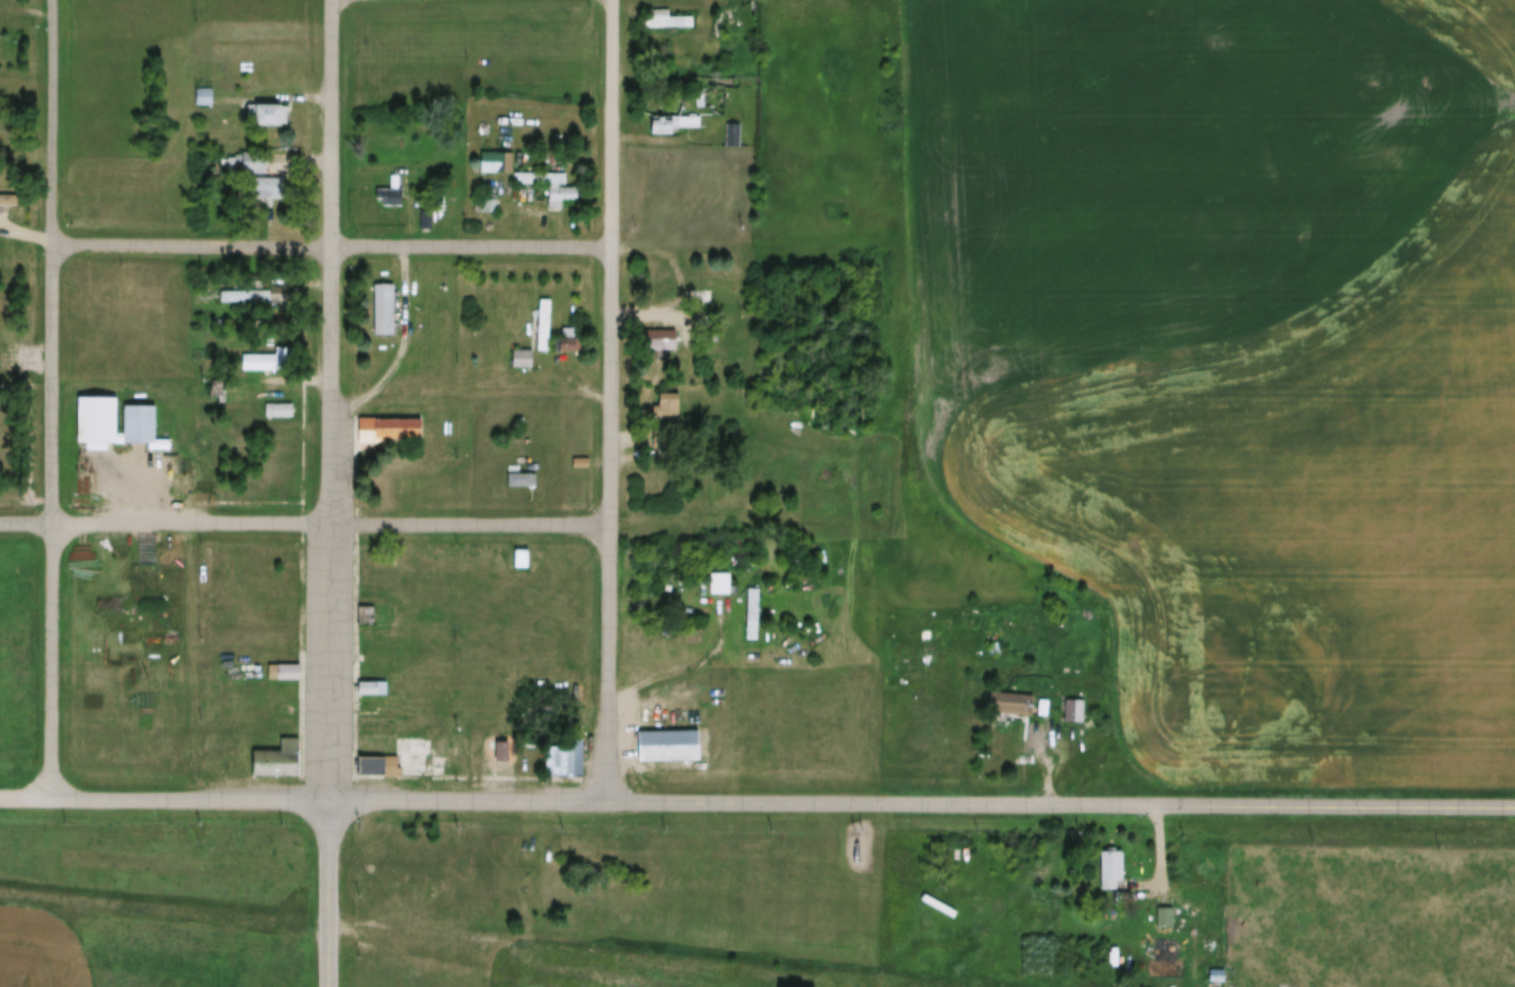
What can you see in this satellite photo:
building: (667, 13)
building: (666, 22)
building: (204, 89)
building: (701, 92)
building: (205, 100)
building: (268, 109)
building: (673, 116)
road: (612, 123)
building: (673, 126)
building: (735, 128)
building: (732, 137)
building: (3, 145)
building: (497, 156)
building: (242, 158)
building: (254, 165)
building: (538, 171)
building: (269, 181)
building: (562, 189)
building: (389, 190)
building: (271, 191)
building: (8, 194)
building: (486, 199)
building: (390, 200)
building: (9, 203)
building: (486, 207)
building: (431, 212)
road: (26, 235)
road: (193, 245)
road: (473, 246)
building: (247, 289)
building: (664, 291)
building: (254, 298)
building: (383, 303)
building: (542, 318)
building: (568, 326)
building: (658, 333)
building: (565, 338)
road: (402, 346)
building: (571, 346)
building: (523, 352)
building: (266, 354)
building: (266, 364)
road: (52, 397)
road: (334, 398)
building: (666, 402)
building: (280, 403)
building: (280, 412)
building: (111, 416)
building: (523, 416)
building: (387, 422)
building: (581, 455)
building: (522, 473)
building: (525, 482)
road: (683, 517)
road: (472, 520)
road: (166, 522)
road: (611, 522)
building: (520, 552)
building: (521, 561)
building: (722, 576)
building: (652, 584)
building: (720, 586)
building: (753, 607)
building: (367, 609)
building: (284, 665)
road: (689, 667)
building: (285, 675)
building: (373, 680)
building: (372, 691)
building: (1011, 697)
building: (979, 700)
building: (1043, 700)
building: (1074, 703)
building: (1007, 707)
building: (667, 739)
building: (501, 744)
building: (1028, 746)
building: (565, 751)
road: (1055, 751)
building: (274, 753)
building: (504, 755)
building: (378, 760)
road: (25, 796)
road: (782, 801)
road: (1167, 853)
building: (1112, 862)
road: (332, 891)
building: (1169, 910)
building: (1165, 919)
building: (1169, 945)
building: (1167, 954)
building: (1218, 968)
building: (1218, 977)

